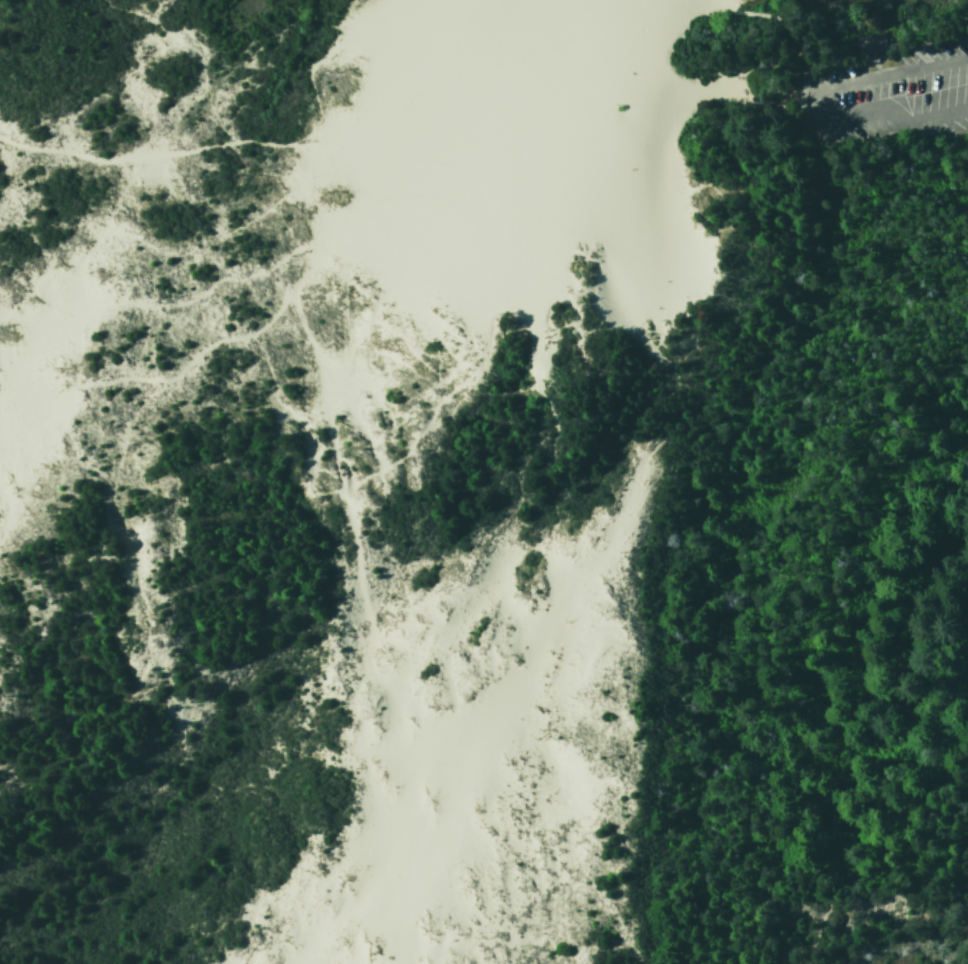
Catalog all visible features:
building: (868, 42)
road: (824, 54)
parking lot: (879, 93)
road: (811, 101)

